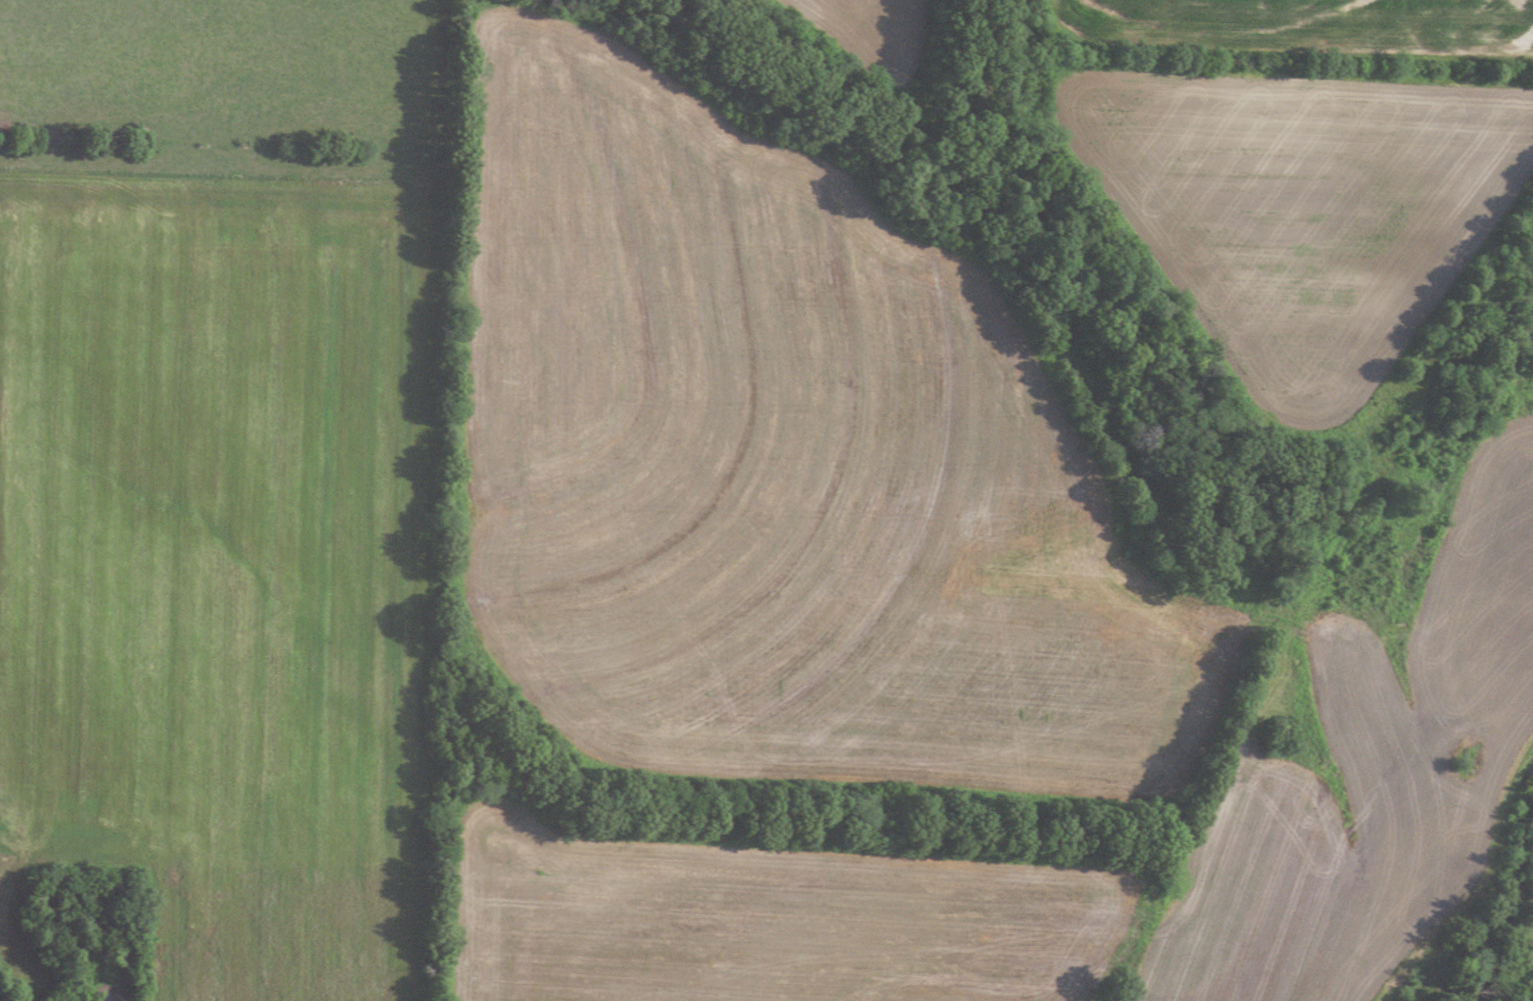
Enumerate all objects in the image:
road: (1363, 620)

